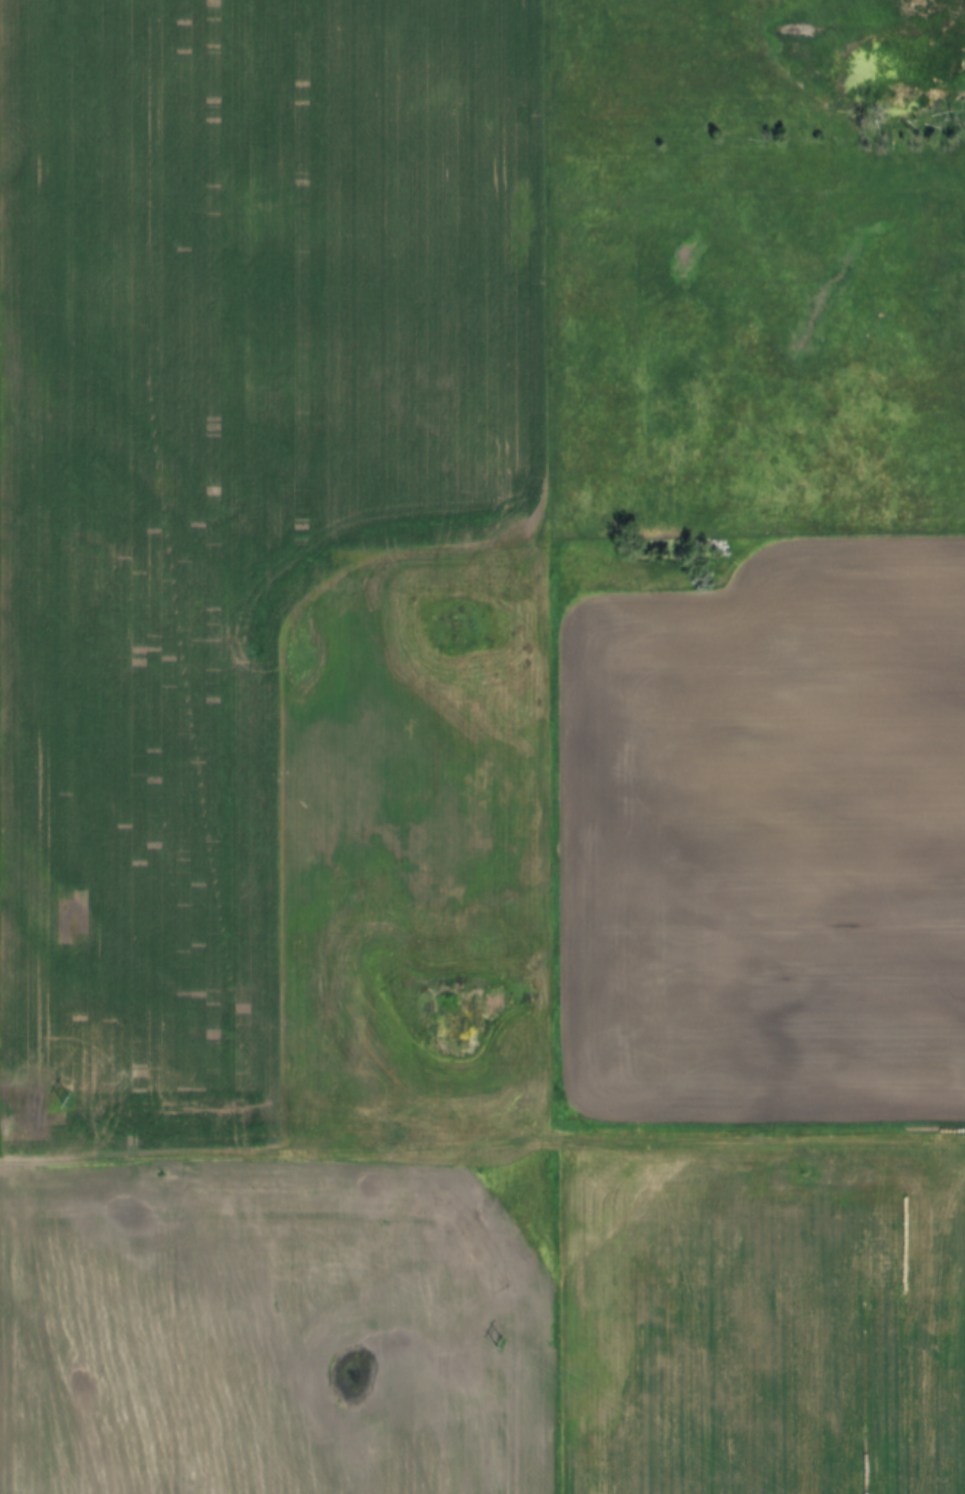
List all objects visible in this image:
power tower: (65, 1096)
road: (482, 1152)
power tower: (496, 1340)

